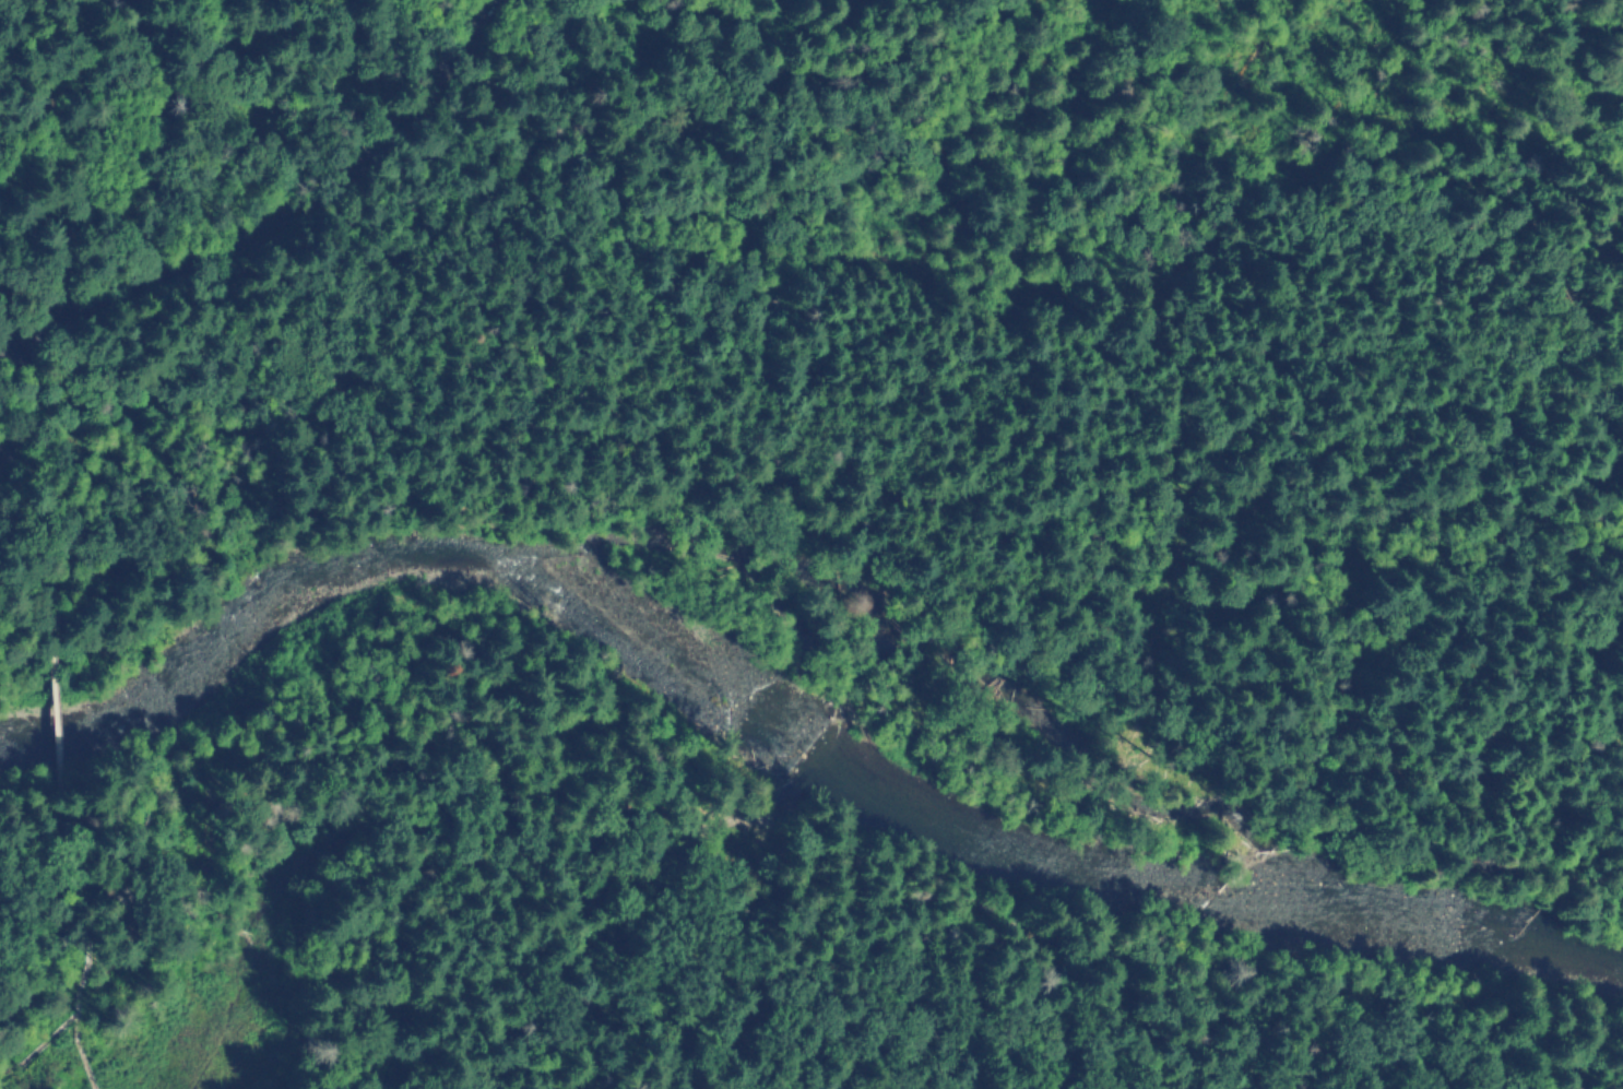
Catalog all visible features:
road: (281, 216)
road: (27, 394)
parking lot: (9, 450)
road: (7, 458)
road: (45, 578)
road: (60, 707)
river: (772, 734)
road: (44, 830)
road: (36, 925)
road: (74, 1005)
road: (37, 1045)

